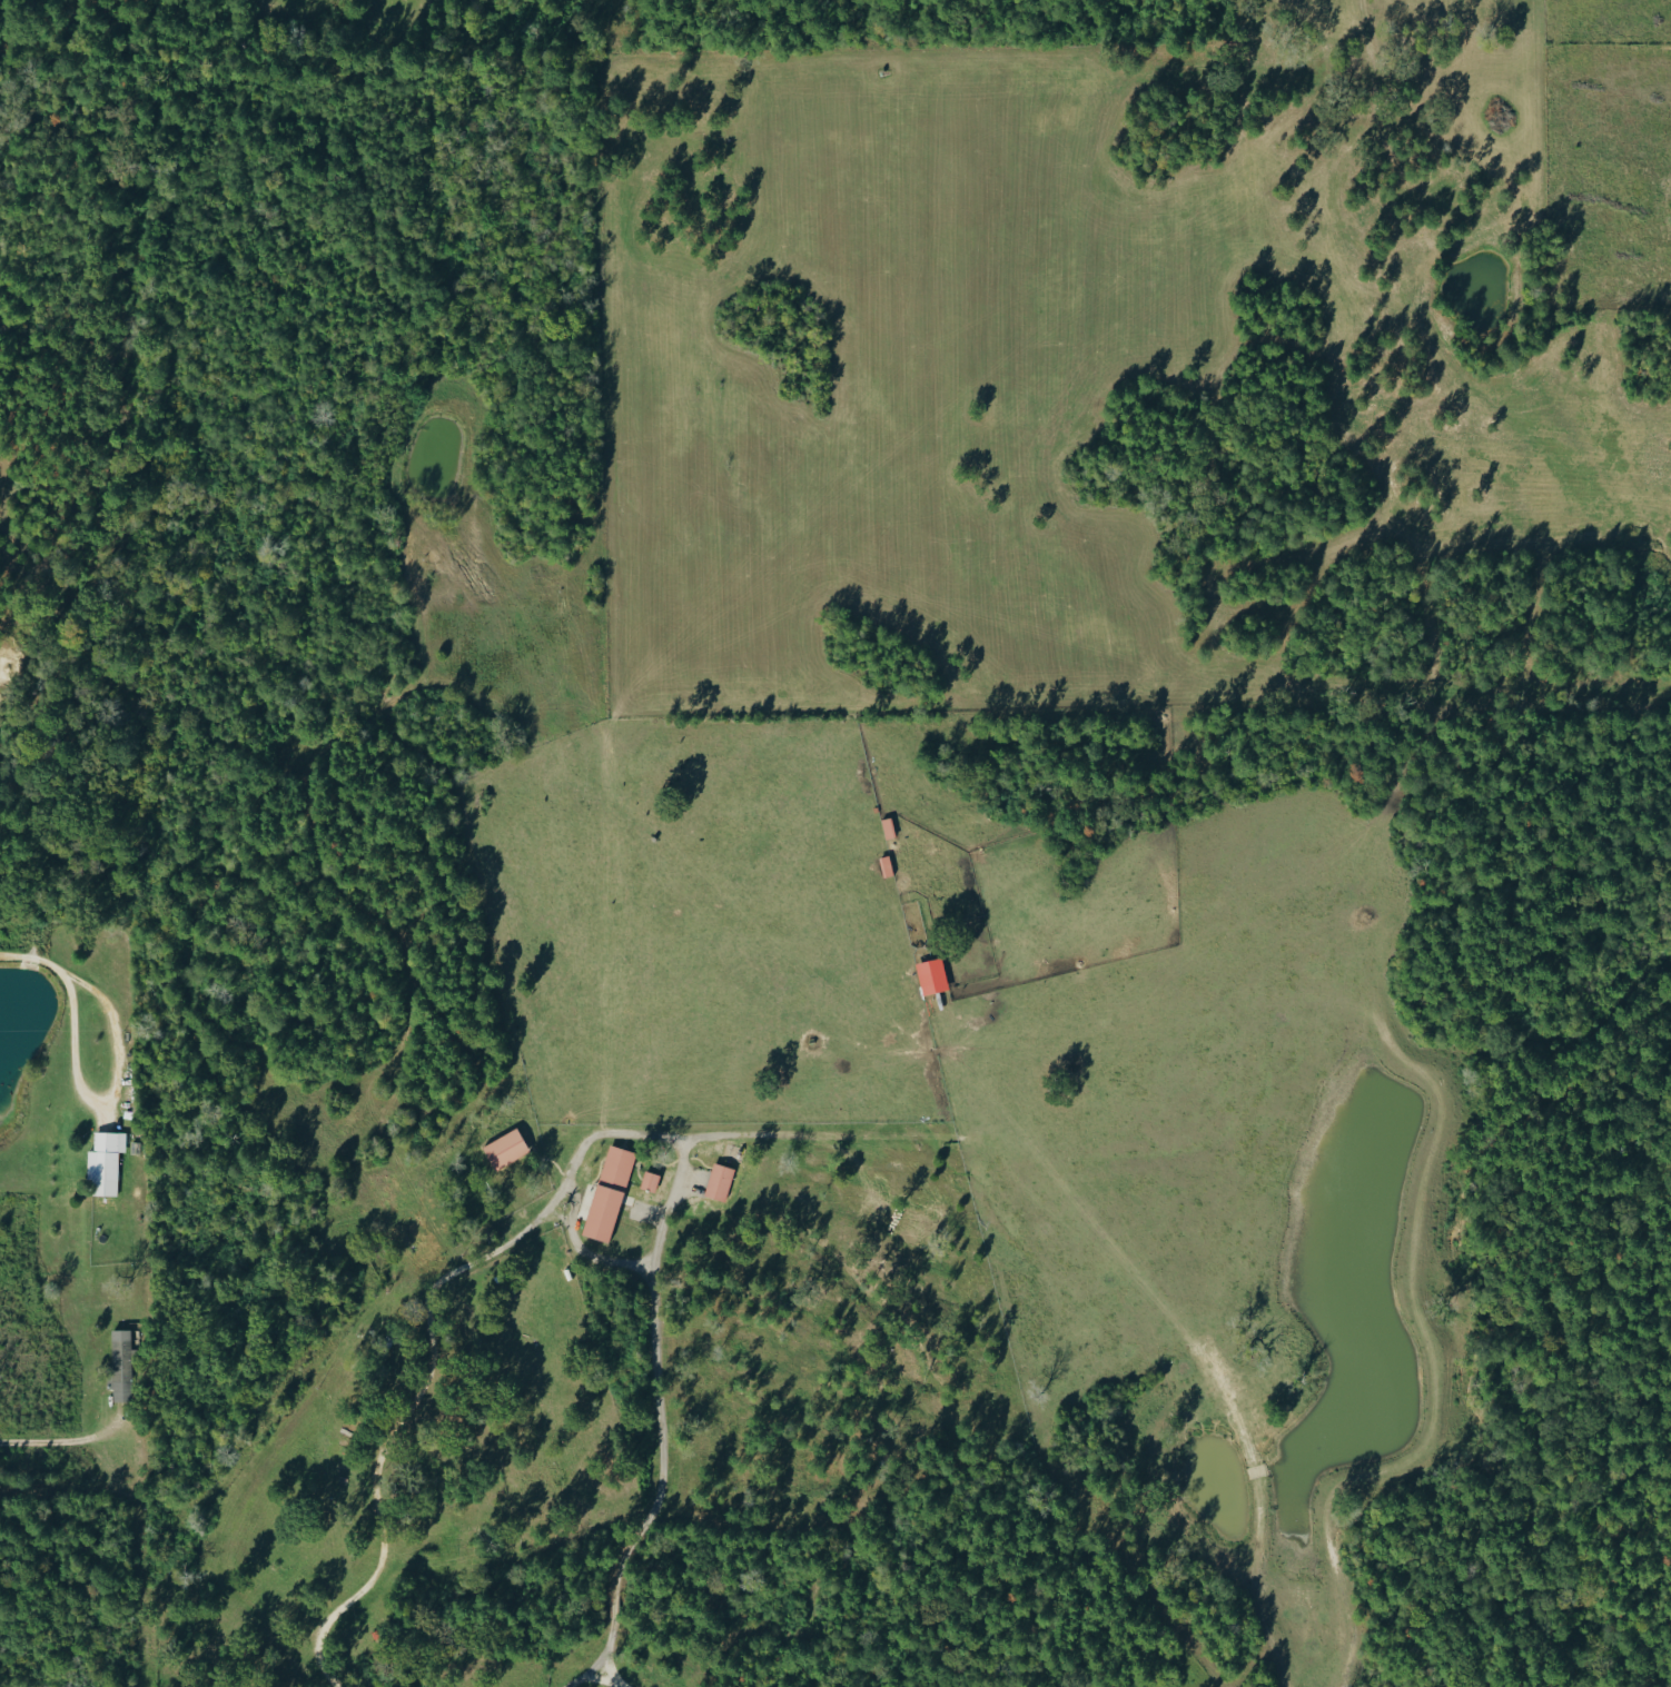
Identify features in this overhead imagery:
building: (884, 866)
road: (37, 965)
building: (929, 975)
road: (121, 1105)
building: (503, 1147)
building: (103, 1162)
building: (647, 1180)
building: (716, 1180)
building: (606, 1191)
road: (439, 1279)
building: (118, 1362)
road: (55, 1448)
road: (656, 1499)
road: (583, 1674)

